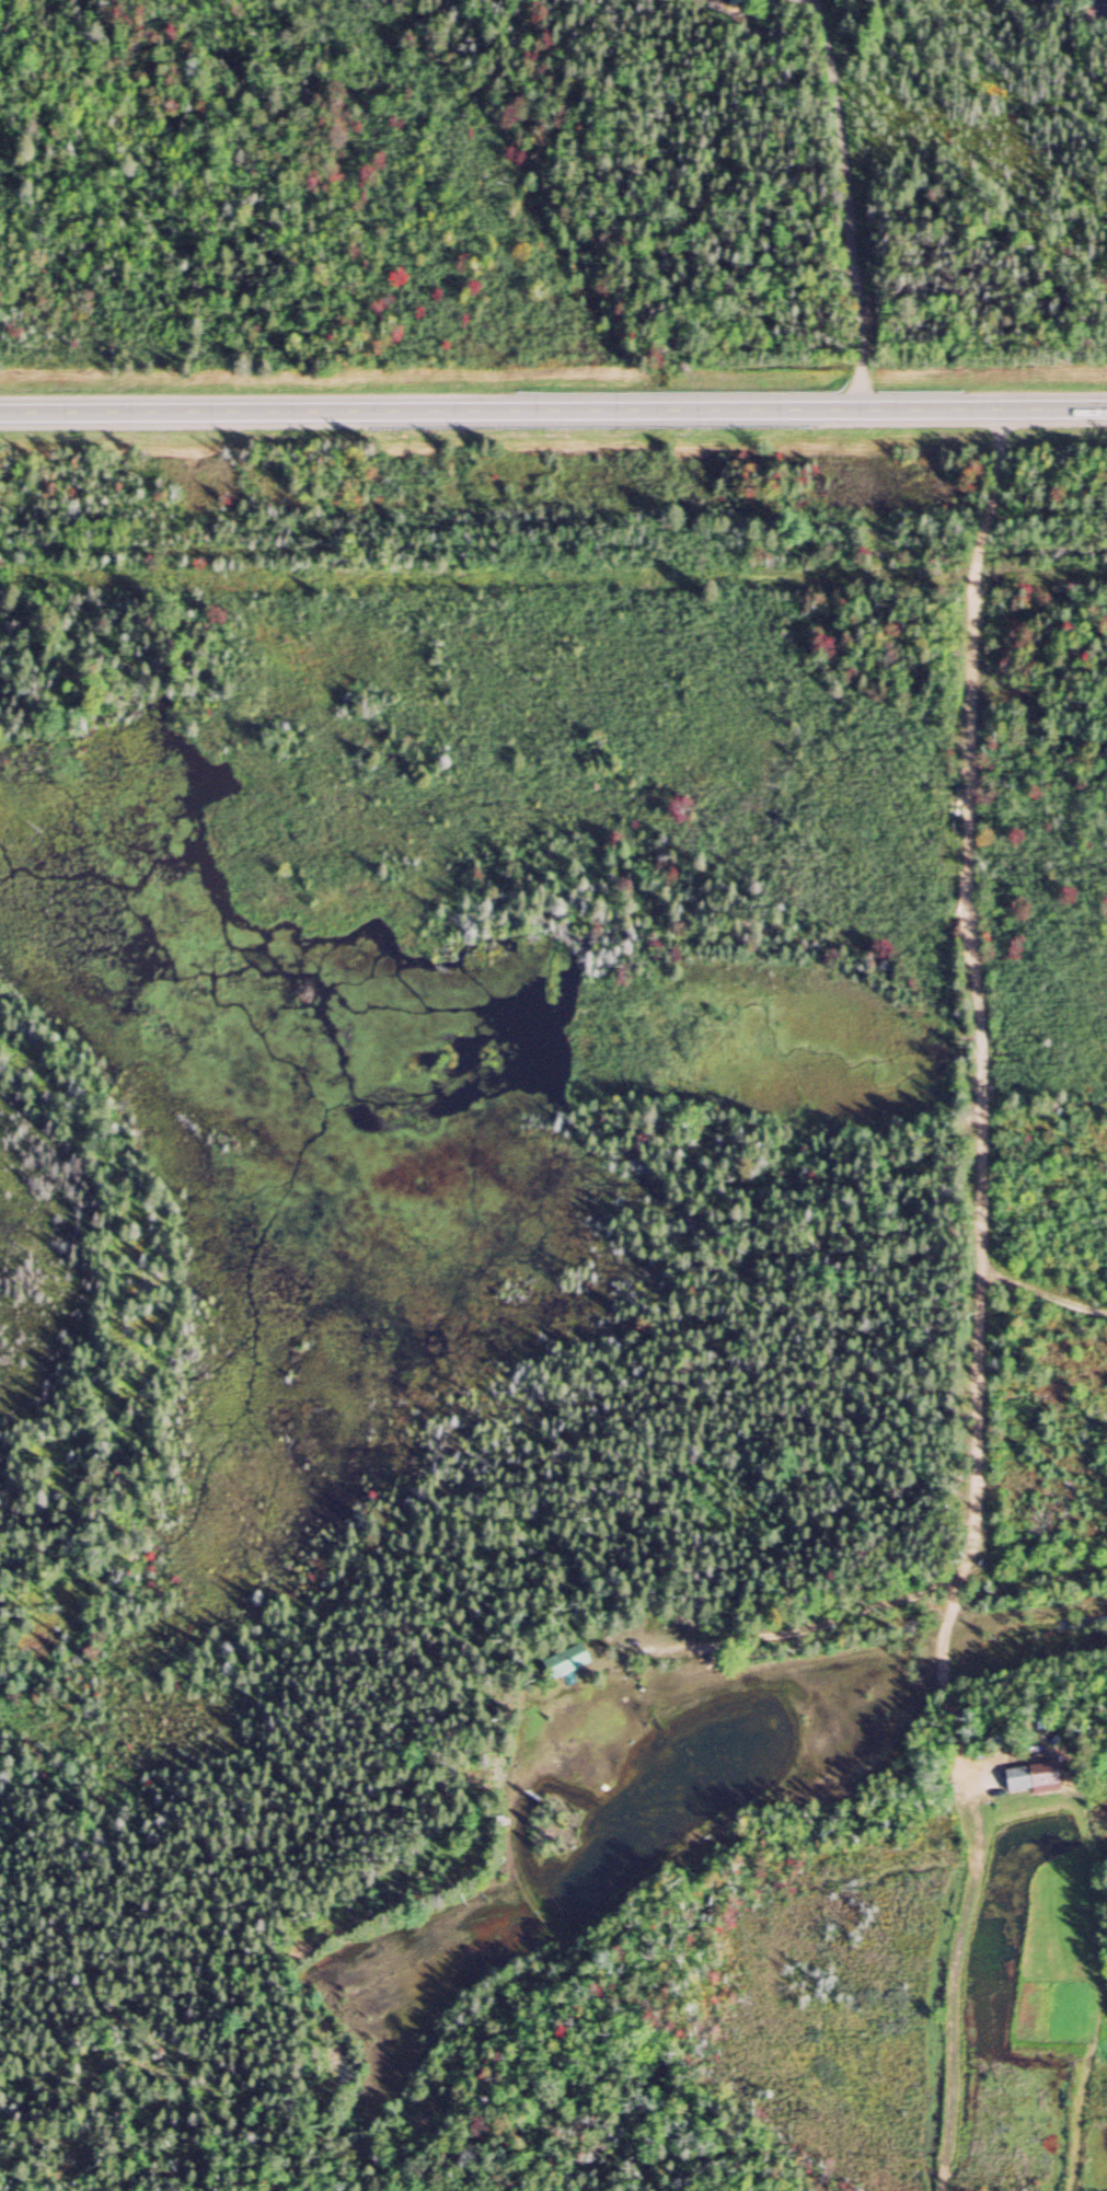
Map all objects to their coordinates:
building: (742, 1)
road: (843, 201)
road: (553, 404)
road: (966, 1097)
building: (564, 1660)
building: (1030, 1776)

